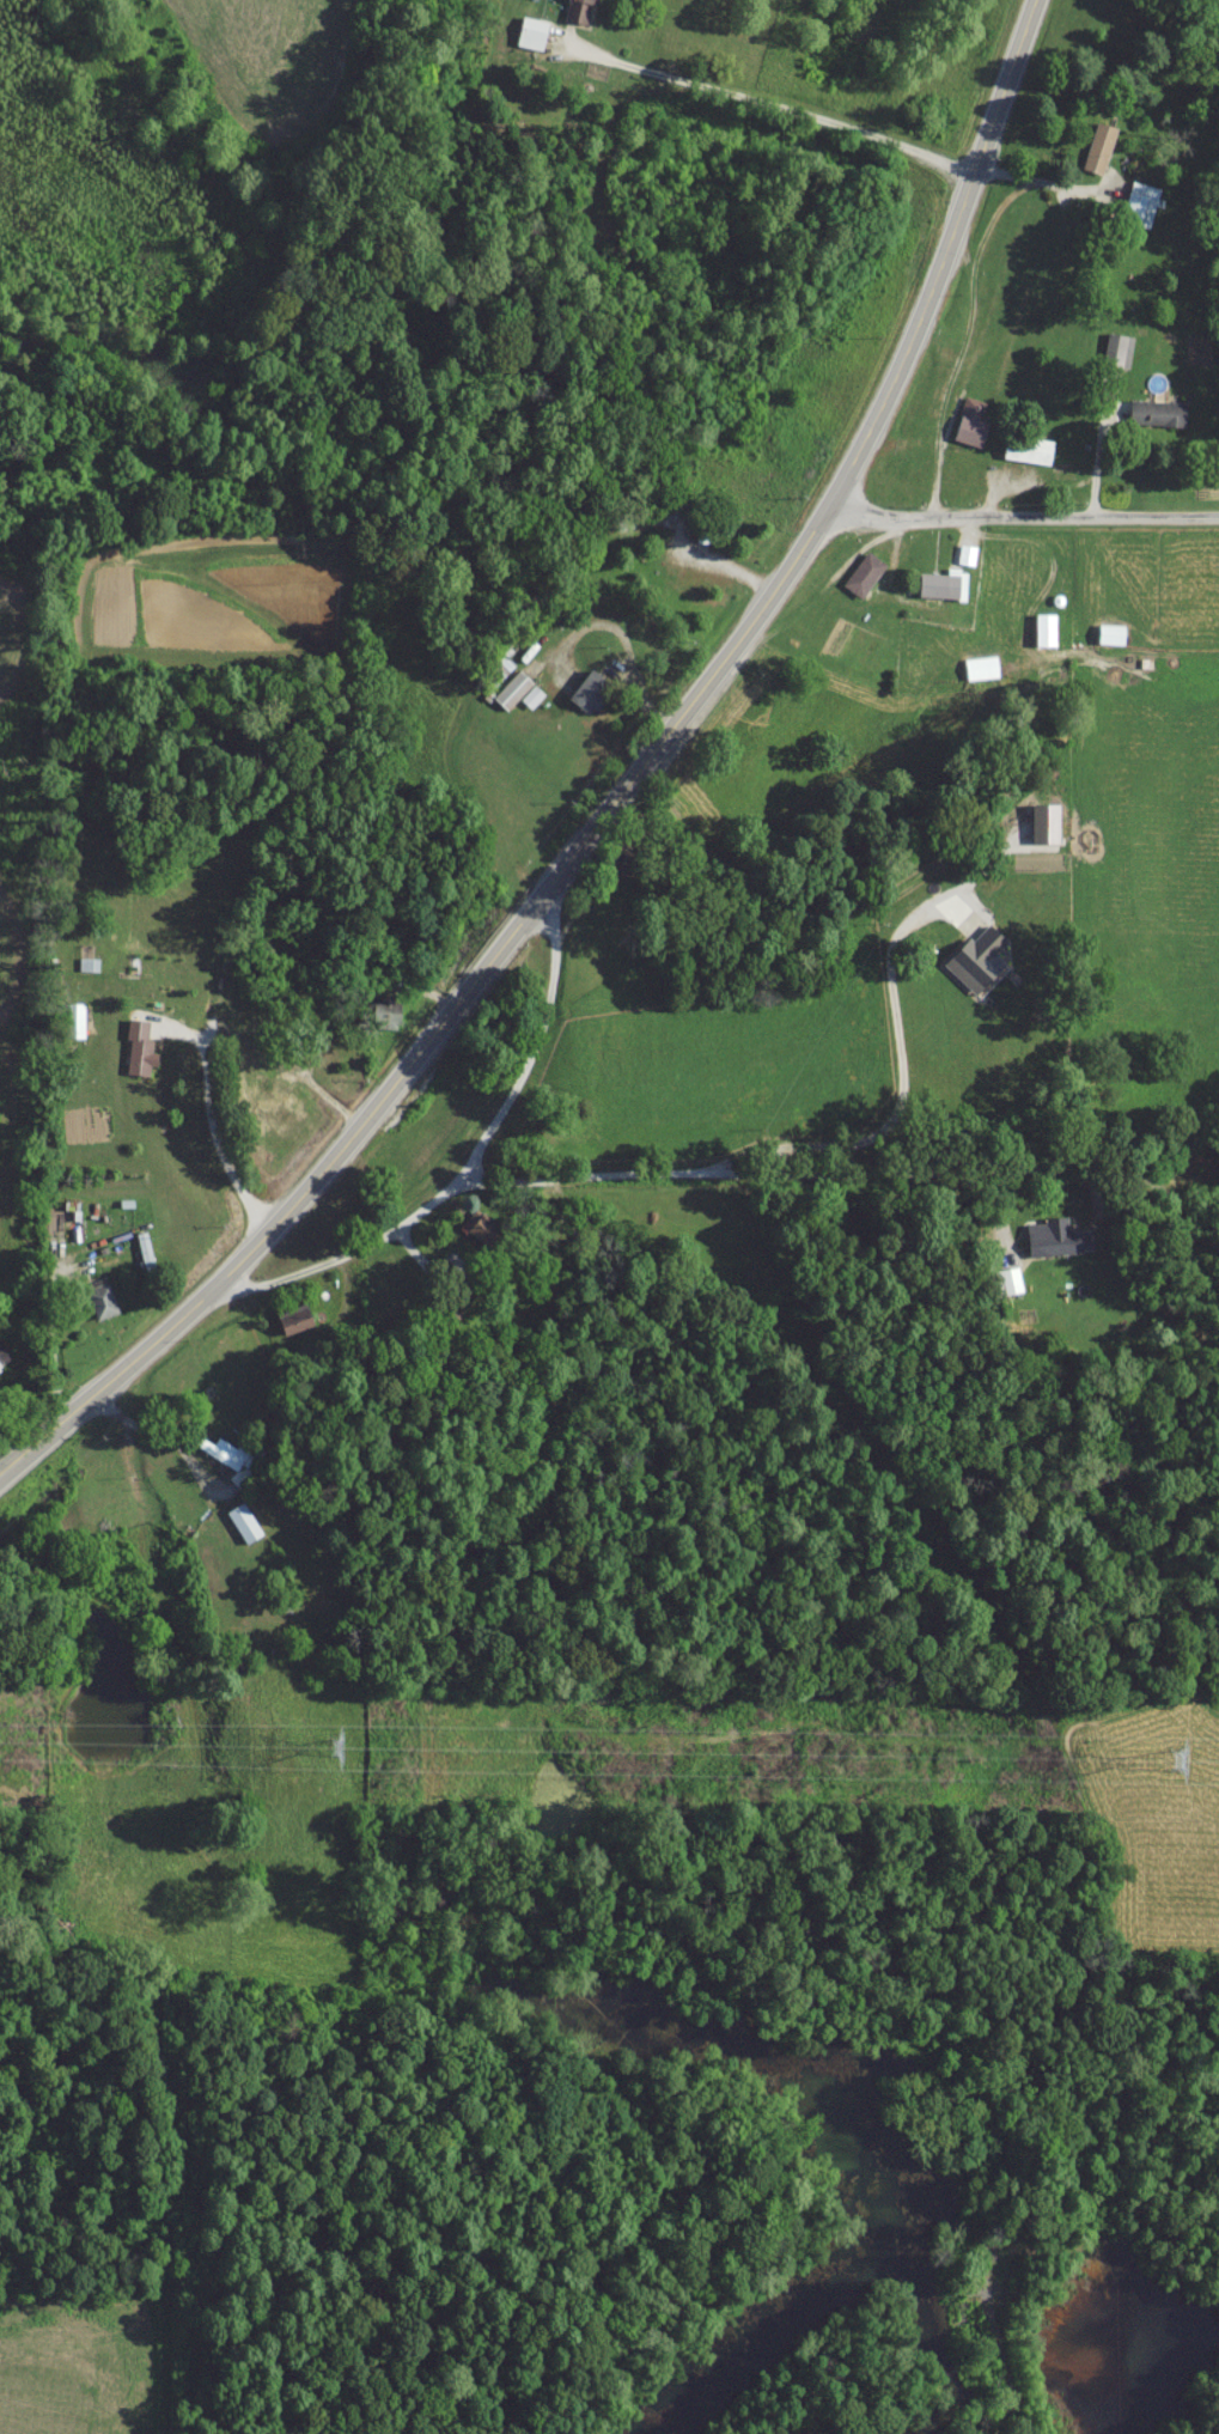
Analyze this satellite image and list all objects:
building: (578, 14)
building: (530, 39)
road: (770, 107)
building: (1097, 154)
building: (1138, 212)
building: (1154, 420)
building: (969, 431)
building: (1026, 455)
road: (1017, 525)
building: (705, 542)
building: (861, 582)
building: (938, 592)
building: (1043, 637)
building: (1109, 641)
building: (979, 675)
building: (516, 699)
building: (589, 699)
road: (615, 805)
building: (976, 966)
building: (86, 970)
building: (382, 1018)
building: (72, 1028)
building: (136, 1055)
road: (902, 1096)
building: (281, 1119)
road: (209, 1130)
road: (469, 1166)
road: (781, 1180)
building: (481, 1235)
building: (1052, 1247)
building: (458, 1276)
building: (1007, 1288)
building: (98, 1306)
building: (294, 1333)
building: (2, 1365)
building: (228, 1466)
building: (242, 1529)
power tower: (333, 1755)
power tower: (1174, 1765)

